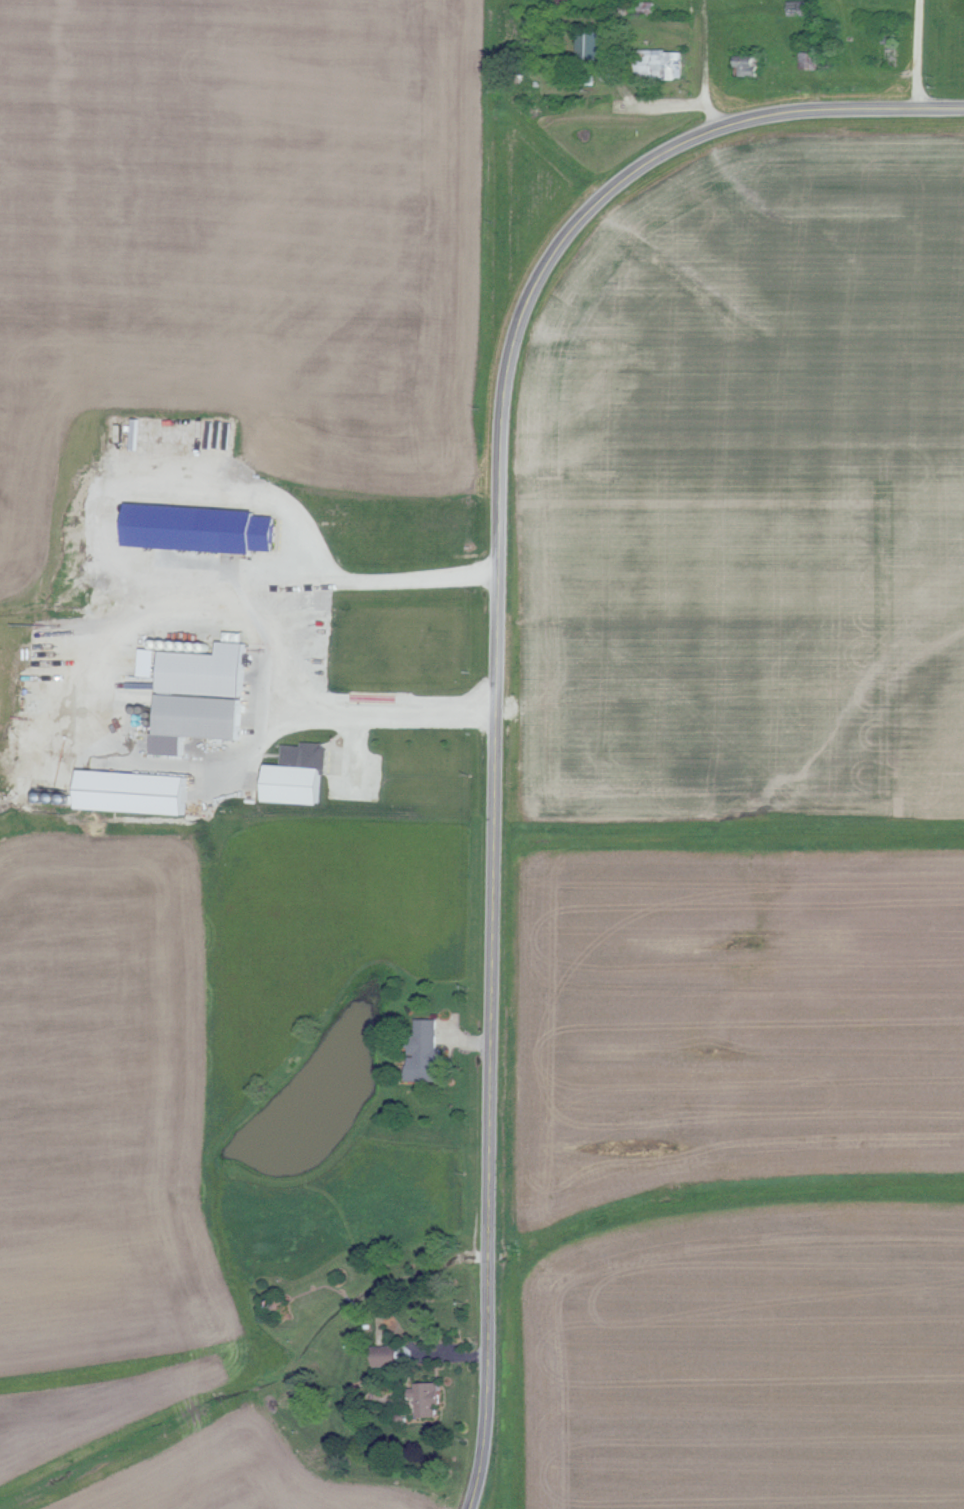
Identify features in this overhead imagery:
building: (588, 44)
road: (920, 55)
building: (750, 64)
building: (660, 65)
road: (705, 65)
building: (201, 528)
road: (248, 617)
road: (494, 647)
building: (200, 693)
building: (300, 775)
building: (137, 792)
building: (426, 1050)
building: (386, 1355)
building: (428, 1398)

